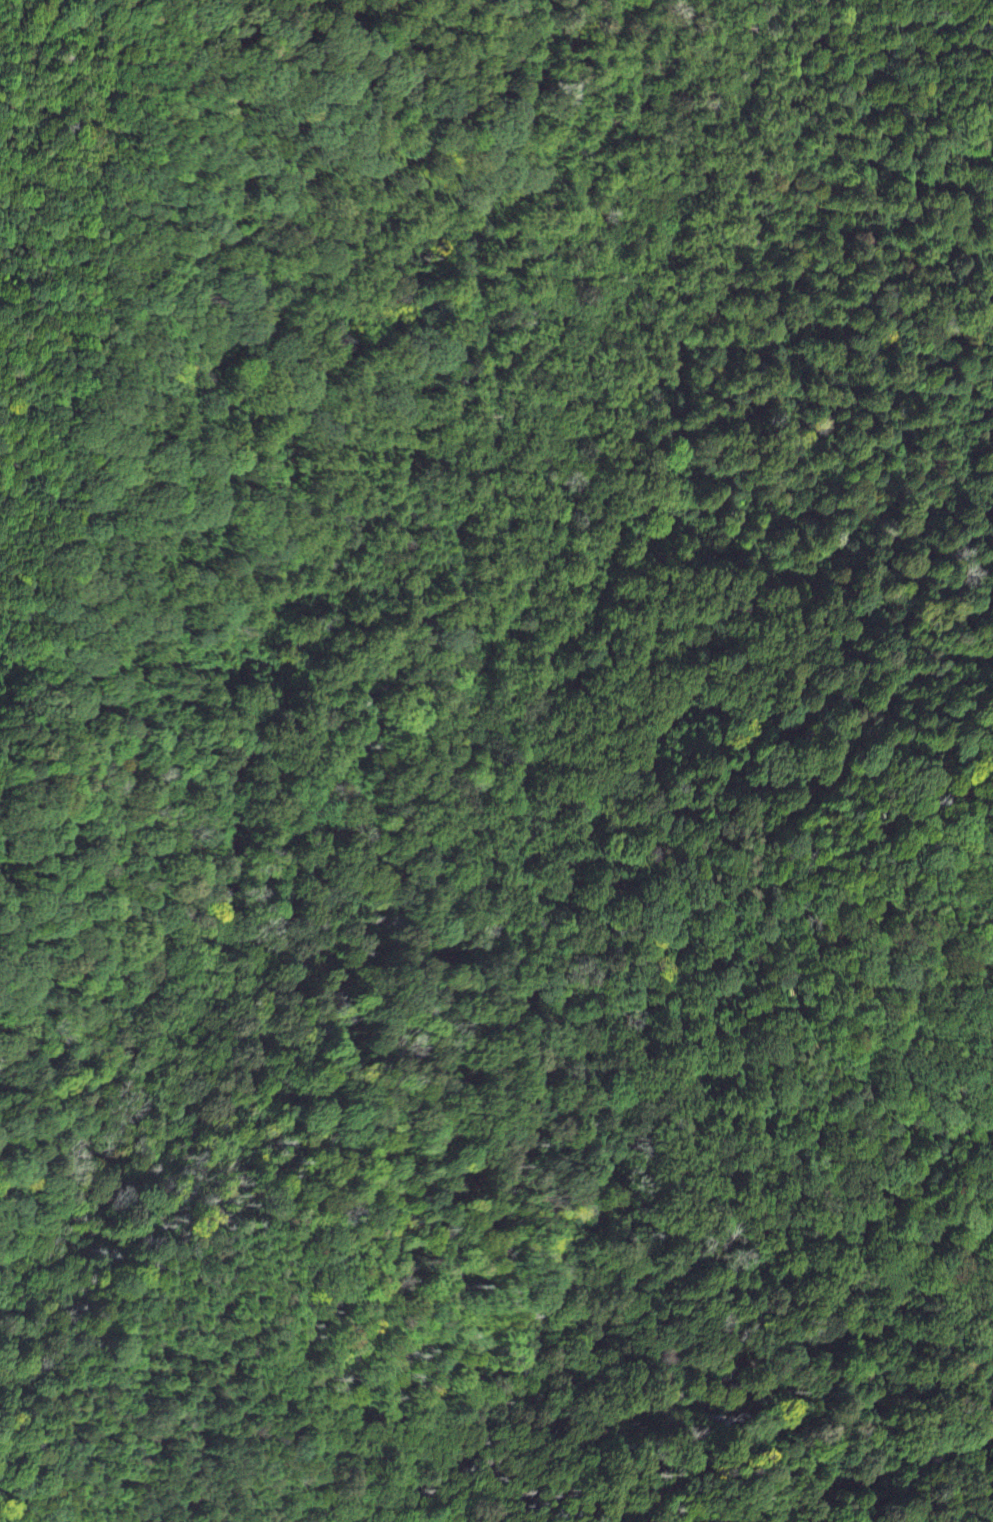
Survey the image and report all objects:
road: (7, 78)
road: (39, 276)
road: (19, 495)
road: (23, 819)
road: (788, 950)
road: (22, 1177)
road: (136, 1300)
road: (799, 1460)
road: (18, 1504)

